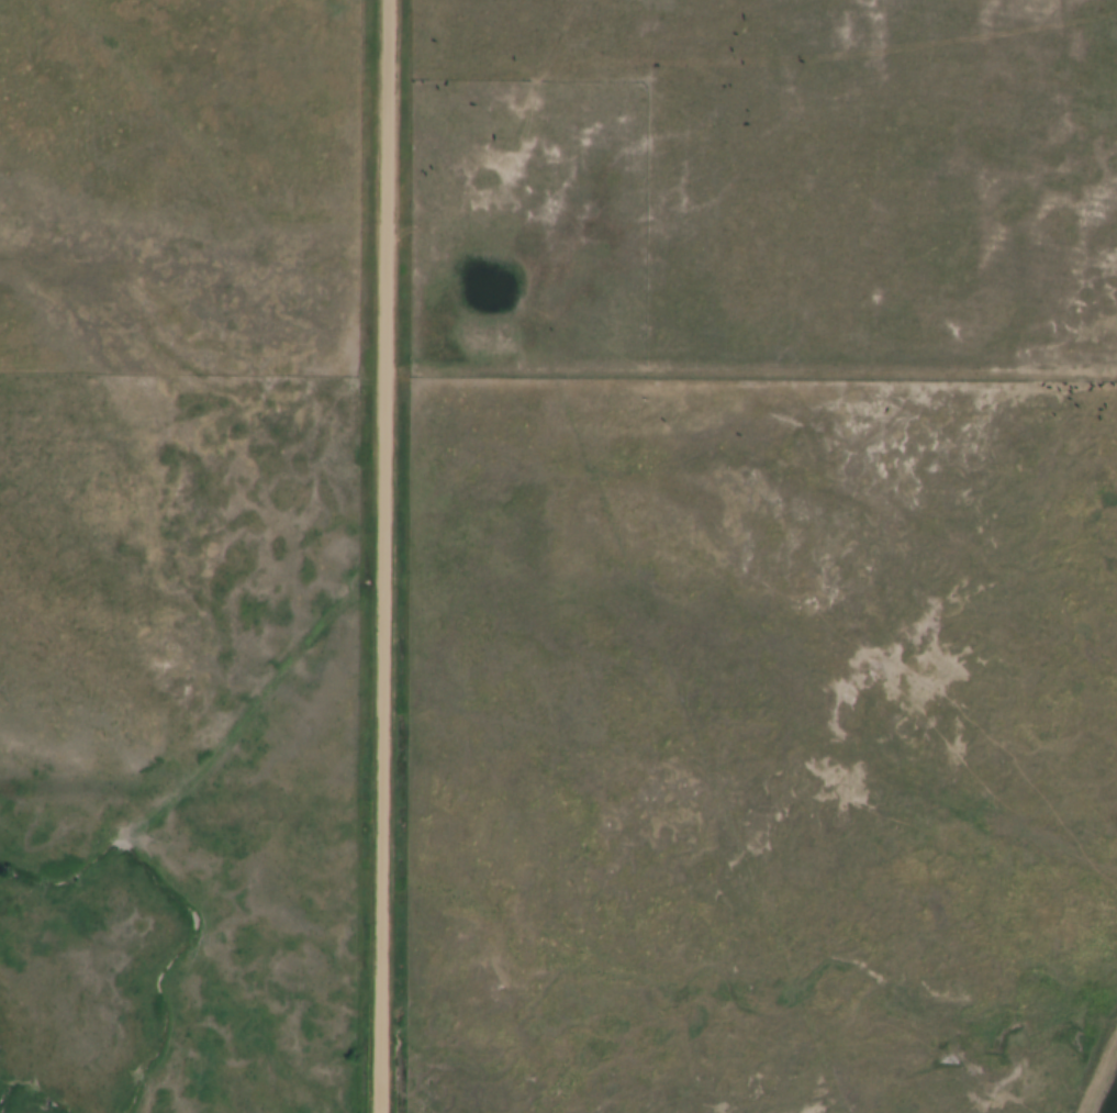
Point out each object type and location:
road: (383, 556)

